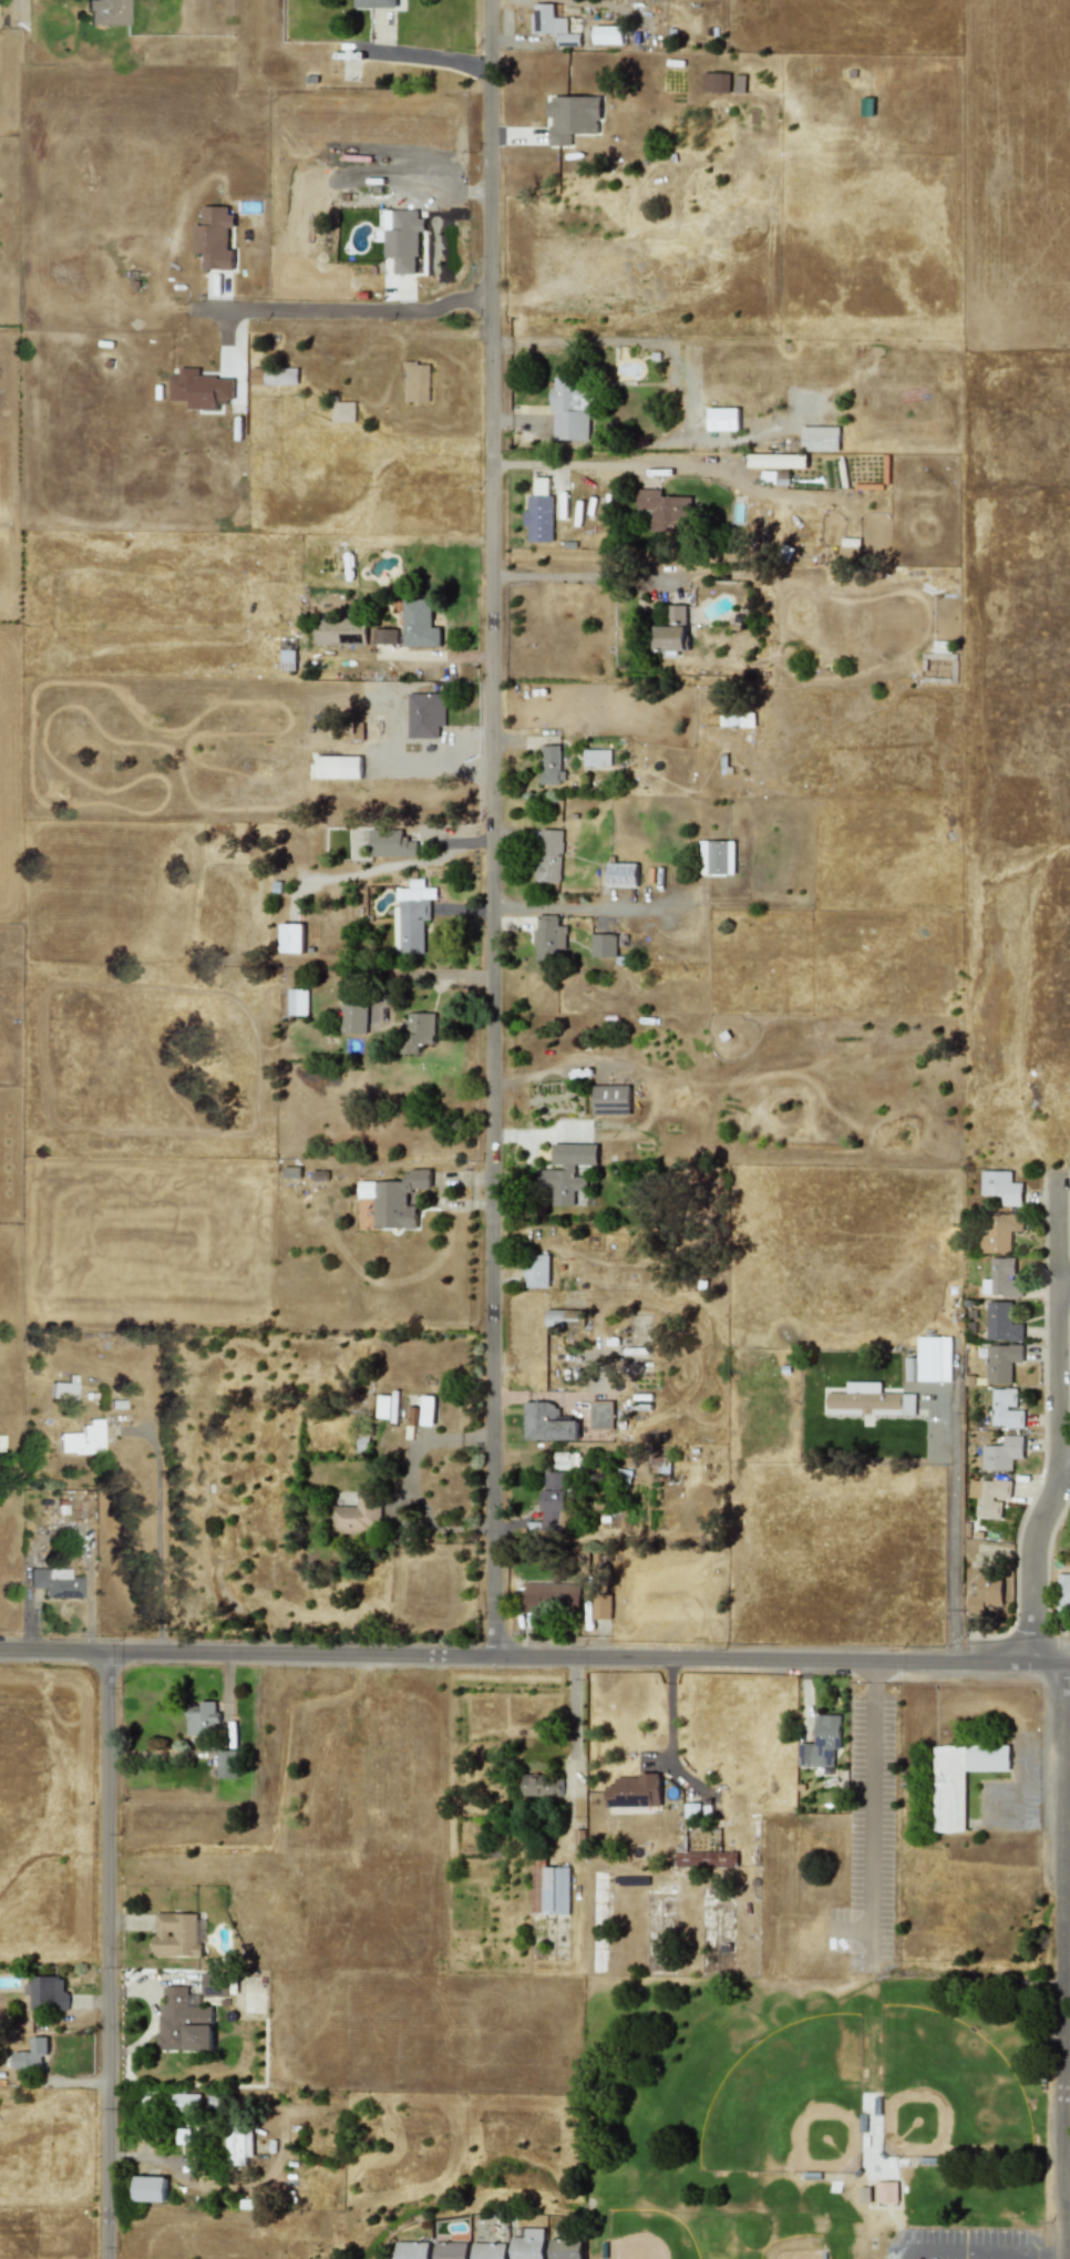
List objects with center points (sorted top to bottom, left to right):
building: (374, 3)
road: (18, 11)
building: (105, 11)
building: (552, 25)
building: (608, 34)
road: (416, 59)
building: (714, 82)
building: (572, 116)
building: (213, 237)
building: (402, 238)
road: (343, 310)
building: (416, 382)
building: (199, 389)
building: (569, 409)
building: (343, 411)
building: (722, 419)
building: (820, 439)
building: (776, 461)
road: (507, 463)
road: (625, 463)
building: (666, 510)
building: (539, 512)
road: (577, 574)
building: (420, 625)
building: (672, 629)
building: (338, 632)
building: (384, 636)
road: (405, 654)
building: (424, 715)
building: (739, 717)
road: (436, 752)
building: (596, 757)
building: (549, 766)
building: (351, 767)
road: (491, 829)
building: (390, 843)
building: (548, 855)
building: (716, 858)
road: (397, 864)
building: (621, 874)
road: (595, 908)
building: (411, 916)
building: (290, 937)
building: (548, 937)
building: (603, 945)
road: (428, 974)
building: (297, 1002)
building: (353, 1018)
building: (416, 1030)
building: (610, 1100)
building: (566, 1171)
building: (1001, 1187)
building: (394, 1199)
building: (999, 1232)
building: (536, 1271)
building: (1005, 1277)
road: (1066, 1283)
building: (560, 1318)
road: (1060, 1322)
building: (1001, 1323)
building: (934, 1358)
building: (1001, 1363)
building: (63, 1389)
building: (870, 1400)
building: (385, 1406)
building: (1006, 1408)
building: (426, 1410)
building: (599, 1414)
building: (546, 1424)
building: (82, 1439)
building: (1002, 1454)
building: (566, 1460)
road: (1064, 1467)
building: (990, 1497)
building: (554, 1498)
building: (357, 1516)
road: (157, 1530)
road: (953, 1542)
road: (1030, 1563)
building: (54, 1582)
building: (1062, 1590)
building: (986, 1594)
building: (551, 1596)
building: (600, 1605)
road: (535, 1657)
road: (868, 1673)
building: (200, 1717)
road: (573, 1723)
building: (823, 1741)
building: (227, 1764)
building: (959, 1779)
road: (1017, 1779)
building: (539, 1786)
building: (634, 1790)
road: (1039, 1790)
road: (867, 1824)
building: (707, 1860)
building: (547, 1889)
road: (847, 1929)
building: (176, 1934)
road: (107, 1957)
road: (1060, 1962)
building: (47, 1993)
building: (183, 2022)
building: (30, 2055)
building: (186, 2103)
building: (238, 2147)
building: (150, 2188)
road: (1064, 2217)
building: (527, 2245)
building: (565, 2249)
building: (412, 2250)
building: (450, 2250)
building: (488, 2250)
road: (963, 2253)
road: (1041, 2253)
road: (1022, 2256)

